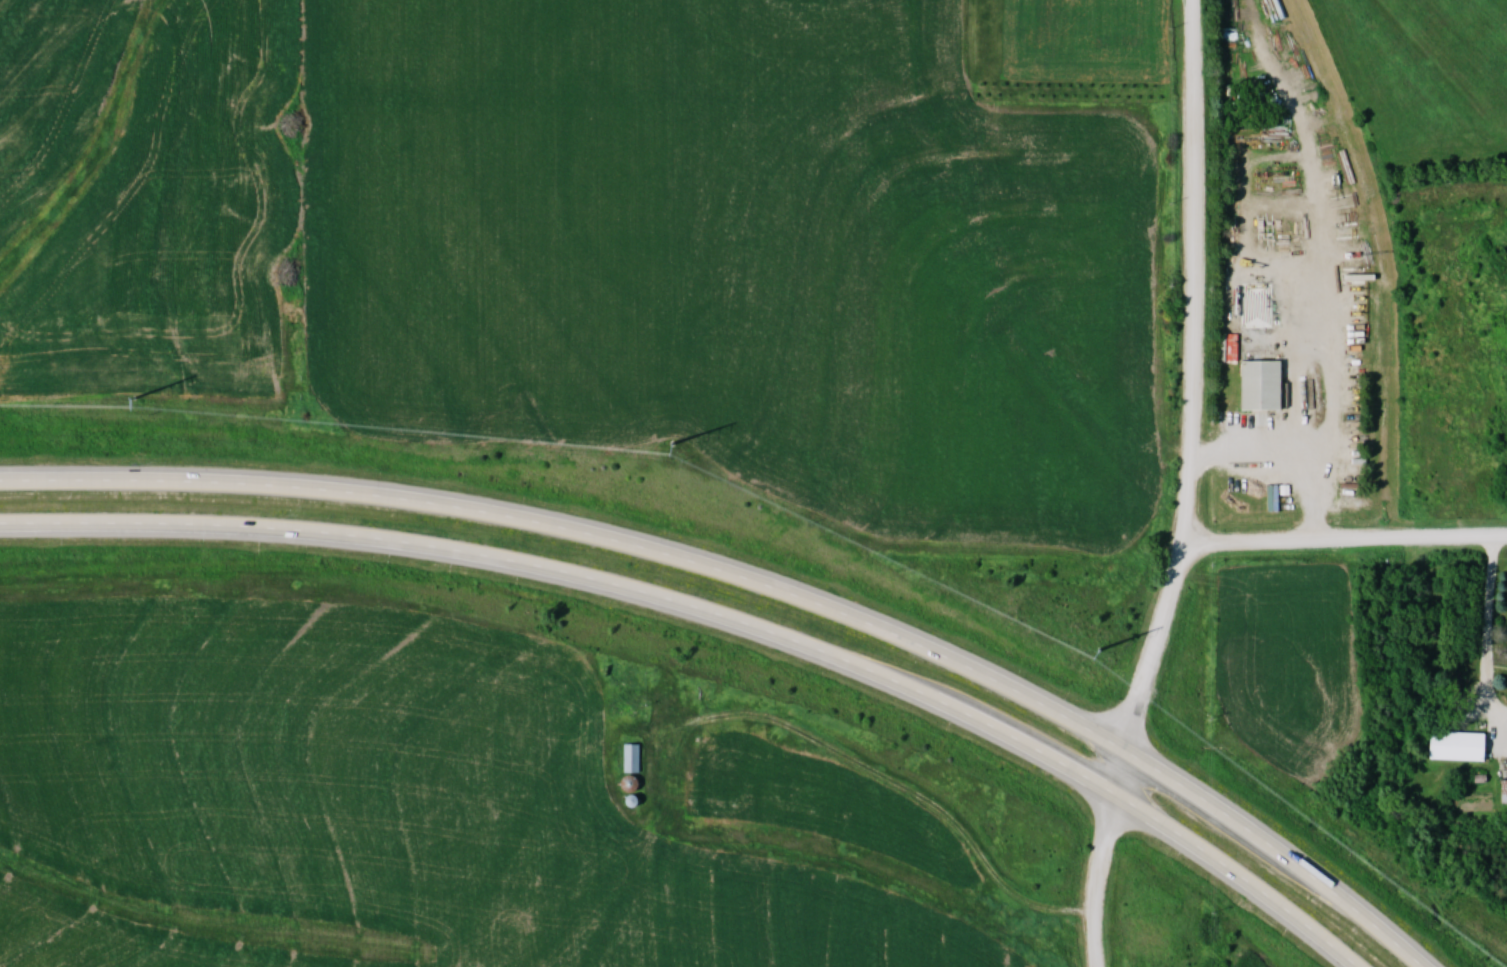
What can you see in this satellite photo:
building: (1037, 0)
building: (1259, 377)
road: (1195, 381)
power tower: (131, 398)
road: (1296, 411)
power tower: (673, 444)
road: (1295, 452)
road: (1345, 537)
road: (581, 538)
road: (575, 581)
road: (1493, 603)
power tower: (1100, 650)
building: (1461, 745)
building: (632, 757)
road: (1118, 774)
road: (894, 784)
building: (1505, 788)
road: (1279, 851)
road: (1238, 873)
road: (1102, 880)

